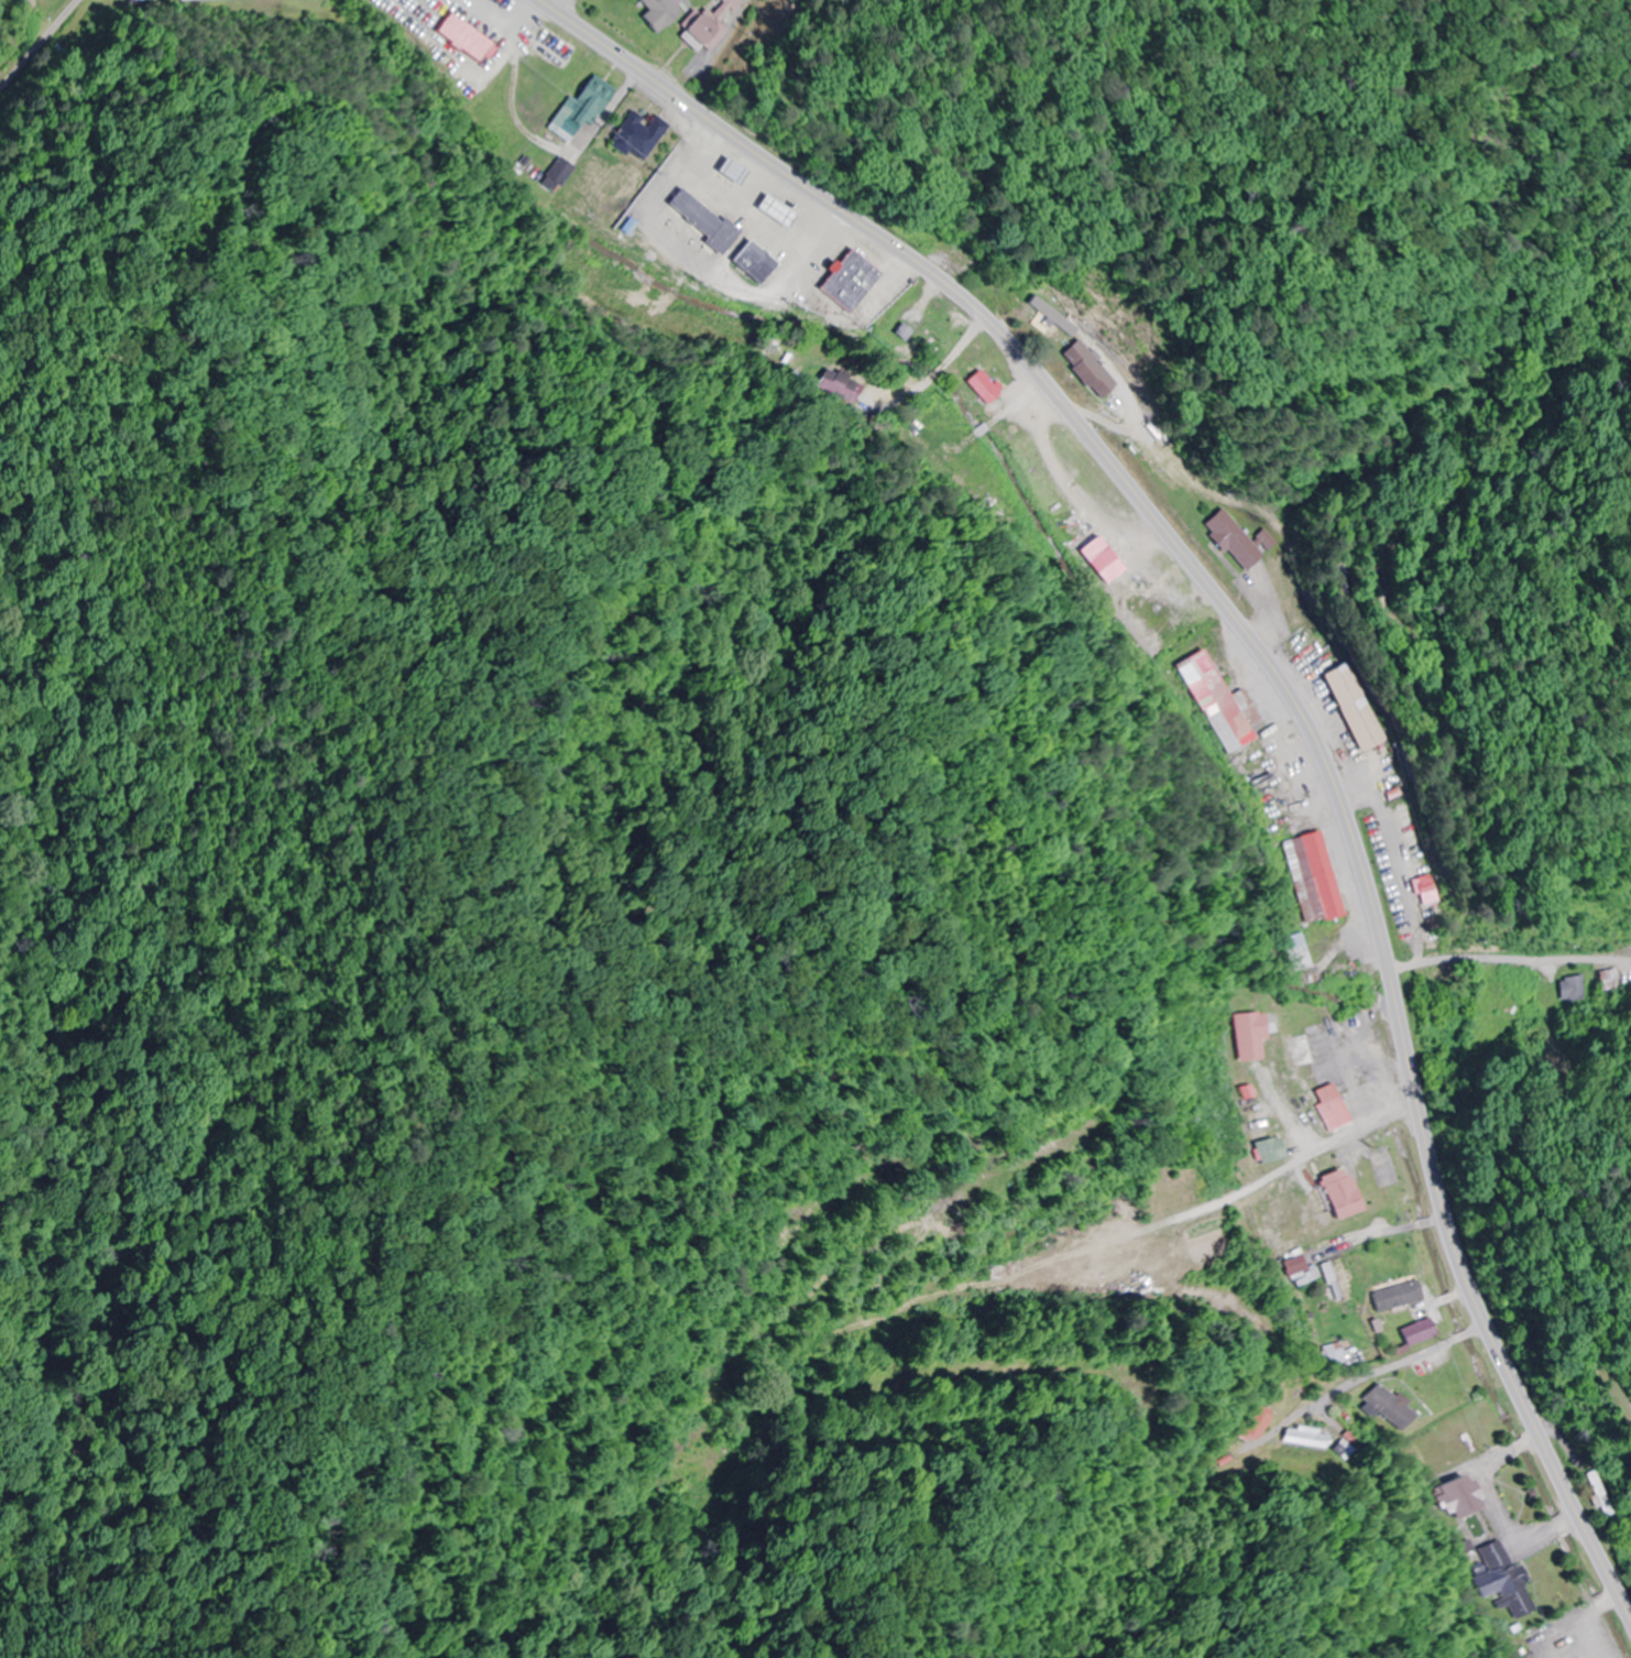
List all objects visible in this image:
building: (147, 0)
building: (193, 0)
road: (558, 6)
building: (655, 13)
building: (705, 25)
building: (460, 39)
road: (40, 46)
building: (549, 67)
building: (580, 105)
building: (630, 148)
building: (555, 174)
building: (696, 221)
building: (746, 262)
building: (974, 268)
building: (844, 281)
building: (1083, 370)
building: (979, 374)
building: (841, 388)
building: (937, 433)
building: (1232, 542)
road: (1274, 679)
building: (1212, 705)
building: (1349, 708)
building: (1306, 879)
building: (1422, 893)
building: (1290, 952)
building: (1608, 980)
building: (1570, 990)
building: (1251, 1035)
building: (1295, 1051)
building: (1326, 1109)
building: (1269, 1150)
building: (1334, 1193)
building: (1296, 1266)
building: (1339, 1288)
building: (1392, 1296)
building: (1413, 1332)
road: (1573, 1353)
road: (1400, 1364)
building: (1390, 1408)
building: (1257, 1424)
building: (1309, 1439)
building: (1595, 1492)
building: (1457, 1497)
building: (1506, 1582)

